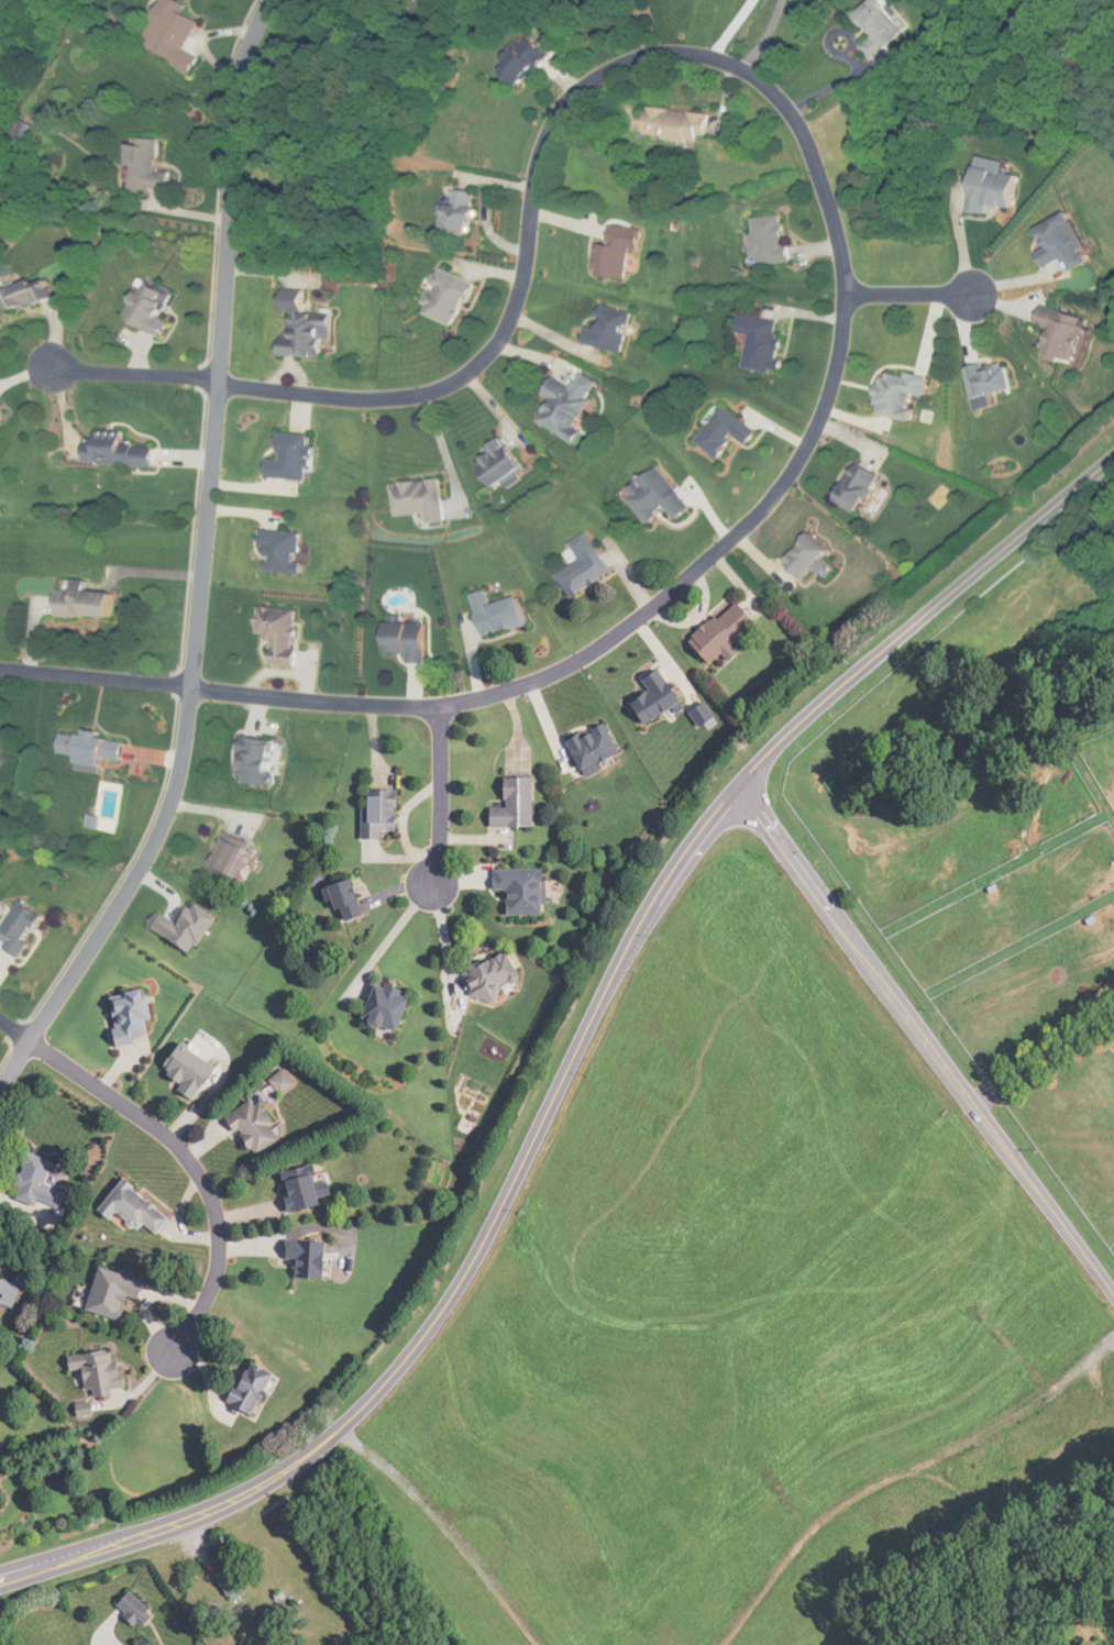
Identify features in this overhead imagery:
building: (424, 0)
road: (730, 29)
building: (891, 30)
building: (177, 34)
road: (764, 36)
building: (533, 63)
building: (686, 126)
building: (151, 165)
building: (1001, 190)
building: (470, 211)
road: (841, 229)
building: (777, 241)
building: (1068, 241)
building: (621, 250)
building: (36, 292)
road: (916, 295)
building: (453, 296)
building: (156, 306)
building: (310, 329)
building: (613, 329)
building: (1072, 331)
building: (770, 342)
road: (131, 374)
building: (996, 378)
building: (908, 391)
building: (573, 404)
building: (2, 415)
building: (734, 431)
building: (121, 451)
building: (297, 457)
building: (507, 464)
building: (869, 485)
building: (664, 496)
building: (423, 499)
building: (287, 552)
building: (816, 555)
building: (587, 565)
road: (201, 566)
building: (90, 600)
building: (505, 614)
building: (728, 630)
building: (285, 634)
building: (413, 641)
road: (96, 677)
building: (660, 696)
building: (0, 728)
building: (596, 749)
building: (93, 750)
building: (263, 760)
road: (441, 795)
building: (519, 804)
building: (385, 815)
building: (235, 855)
building: (528, 890)
building: (351, 901)
building: (189, 927)
building: (29, 929)
building: (1072, 942)
building: (495, 976)
building: (393, 1006)
building: (135, 1017)
road: (14, 1029)
road: (927, 1036)
road: (572, 1056)
building: (194, 1071)
building: (260, 1127)
road: (190, 1161)
building: (43, 1182)
building: (308, 1189)
building: (137, 1210)
building: (312, 1258)
building: (4, 1293)
building: (118, 1293)
building: (103, 1371)
building: (257, 1388)
building: (234, 1582)
building: (137, 1609)
building: (145, 1643)

